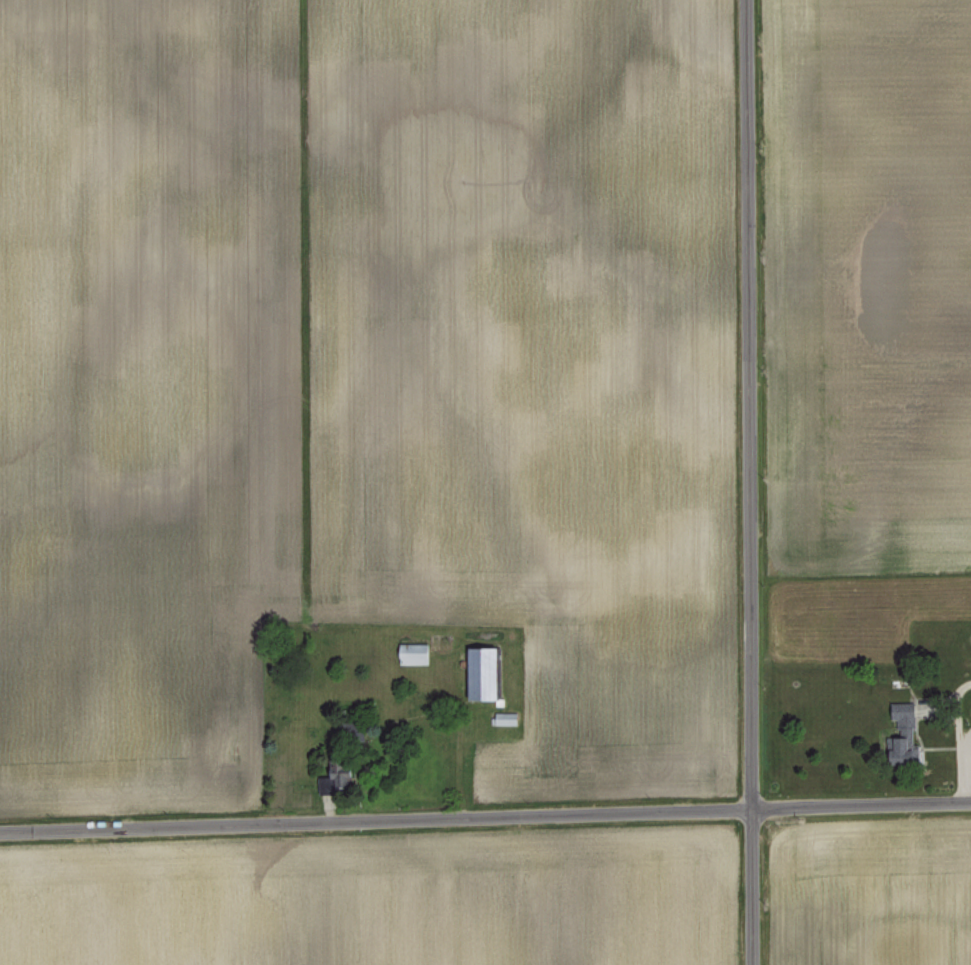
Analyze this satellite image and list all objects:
road: (746, 482)
building: (475, 671)
road: (485, 816)

